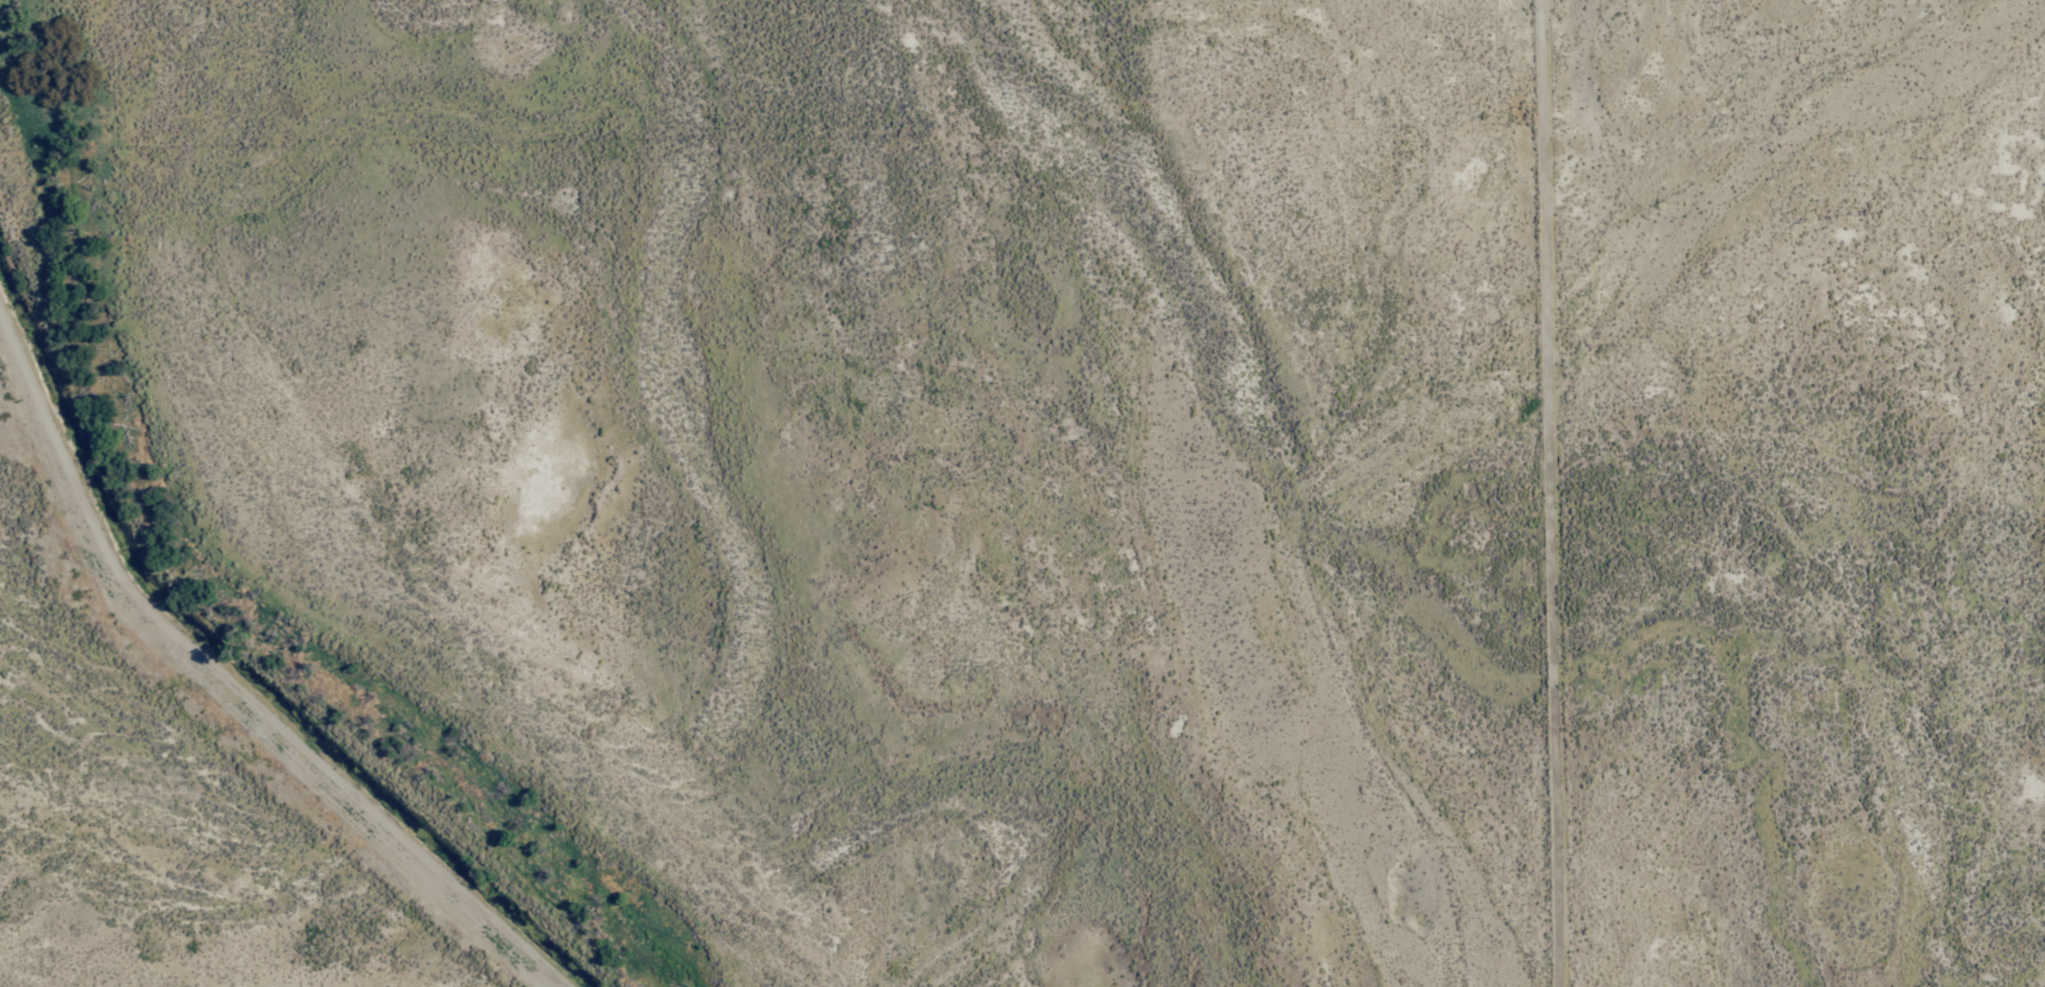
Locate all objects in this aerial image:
road: (1553, 493)
road: (228, 703)

